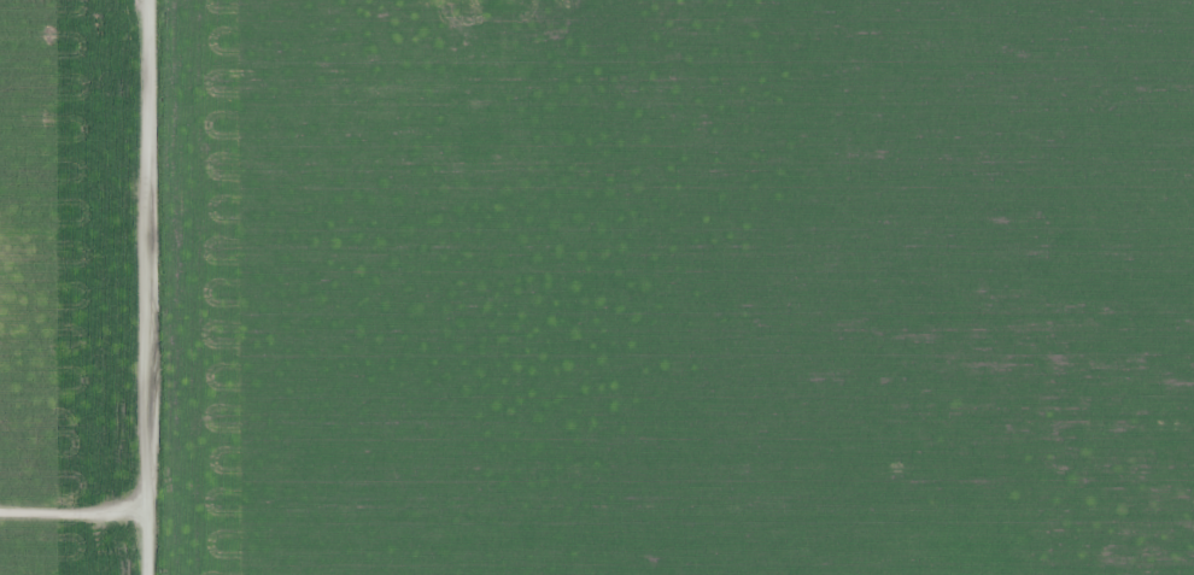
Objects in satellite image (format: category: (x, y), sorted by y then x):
road: (156, 287)

